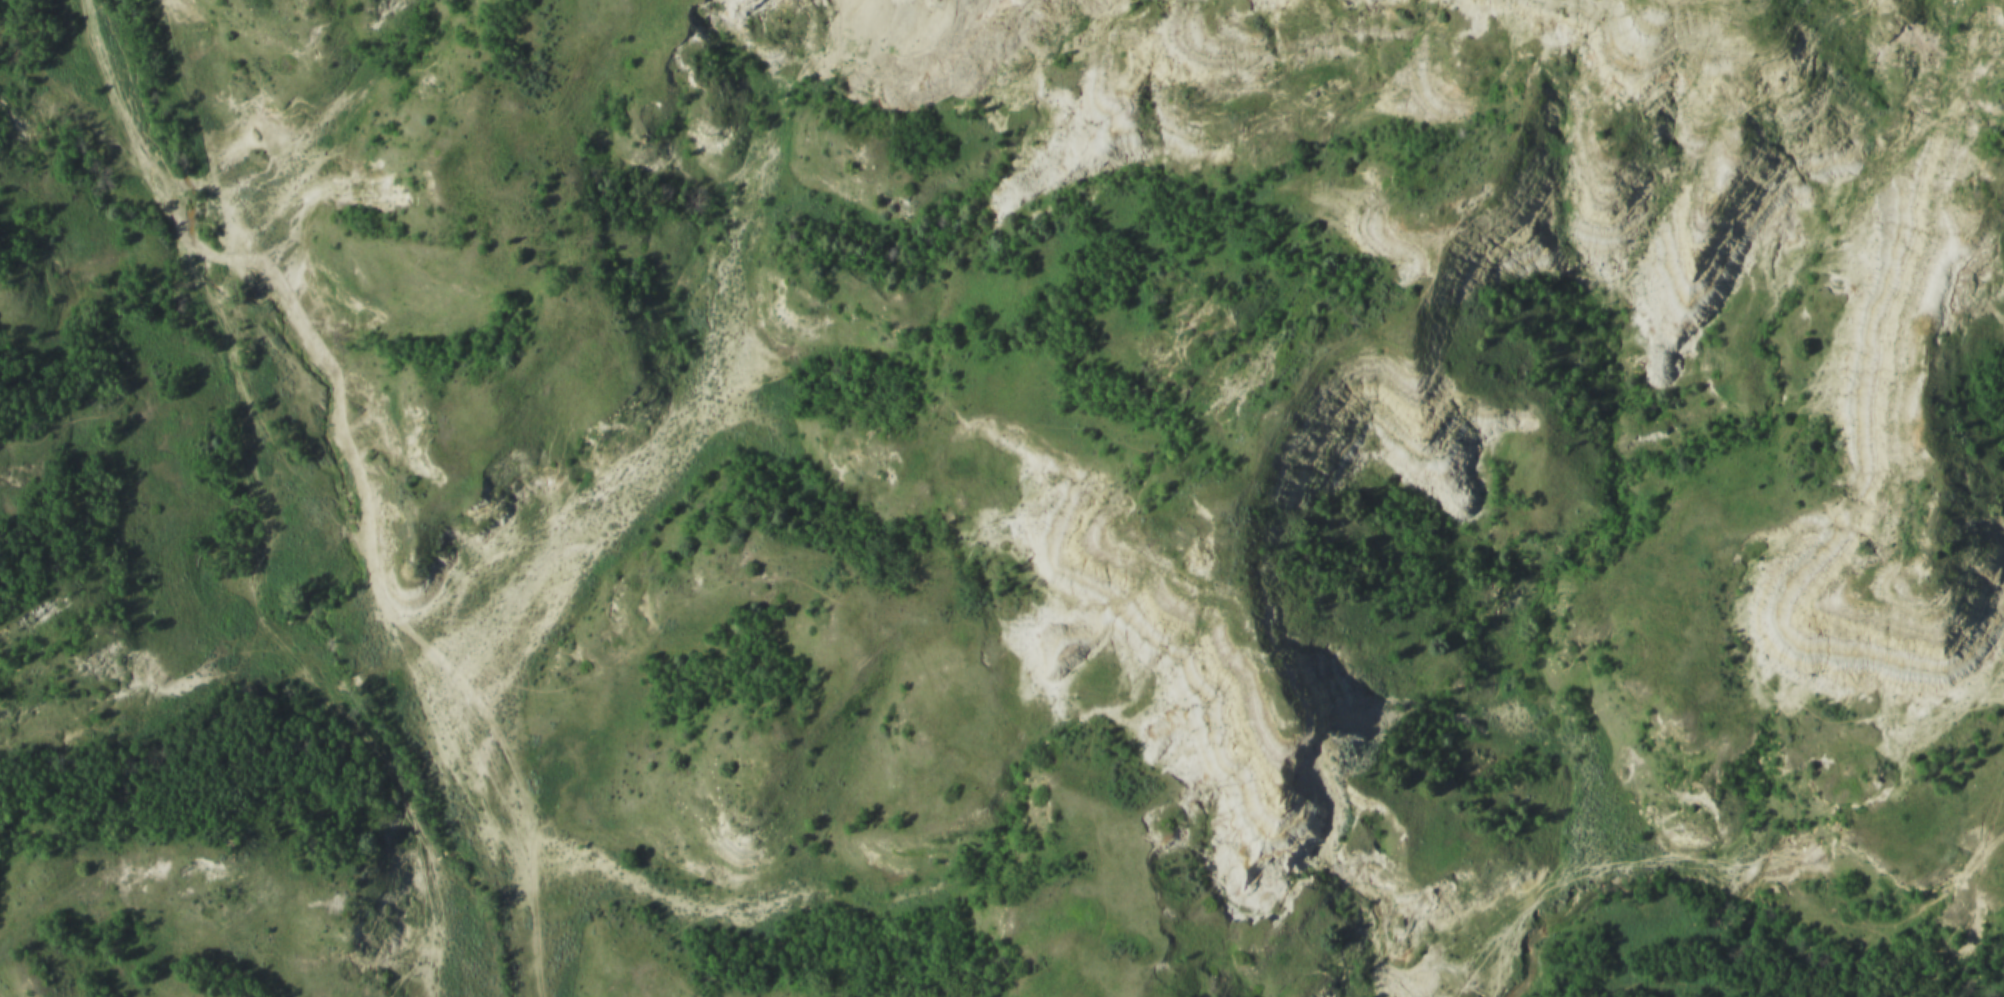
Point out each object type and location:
road: (212, 164)
road: (357, 461)
road: (498, 737)

